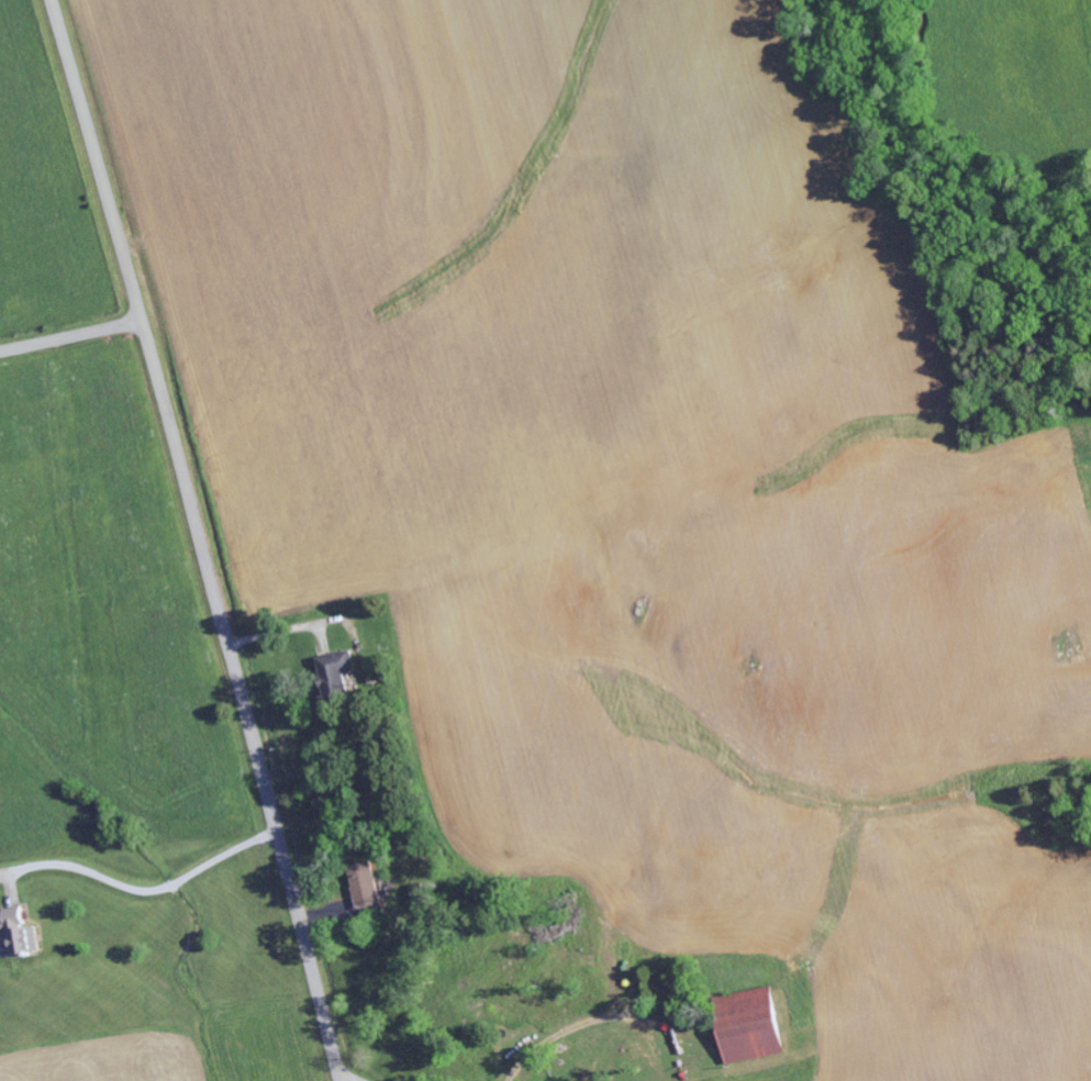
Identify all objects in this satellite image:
road: (70, 337)
road: (199, 538)
building: (337, 678)
building: (366, 885)
building: (19, 935)
building: (752, 1026)

